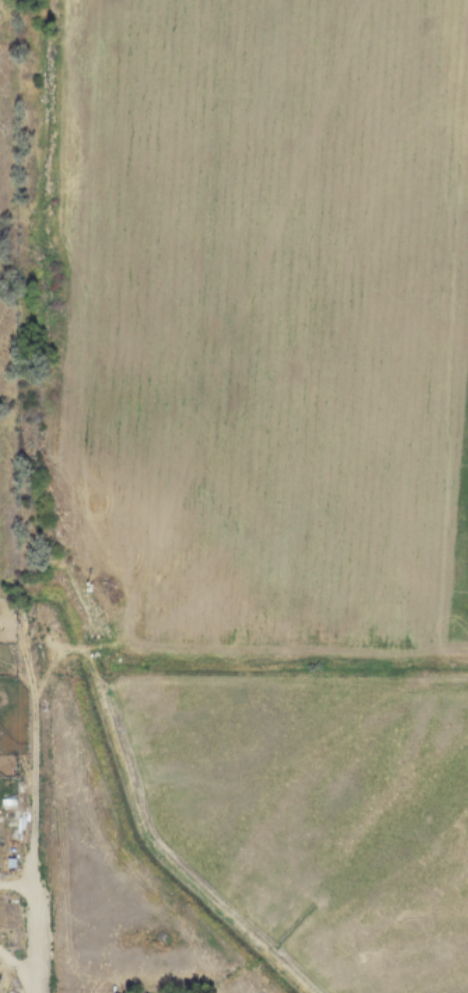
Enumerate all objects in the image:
road: (33, 919)
road: (15, 965)
road: (32, 985)
road: (32, 992)

